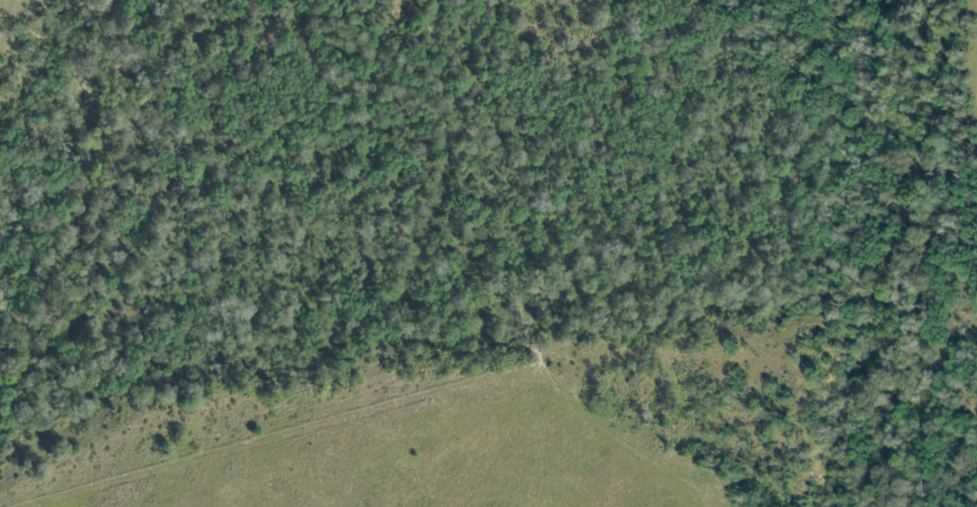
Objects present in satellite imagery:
river: (97, 208)
river: (894, 258)

